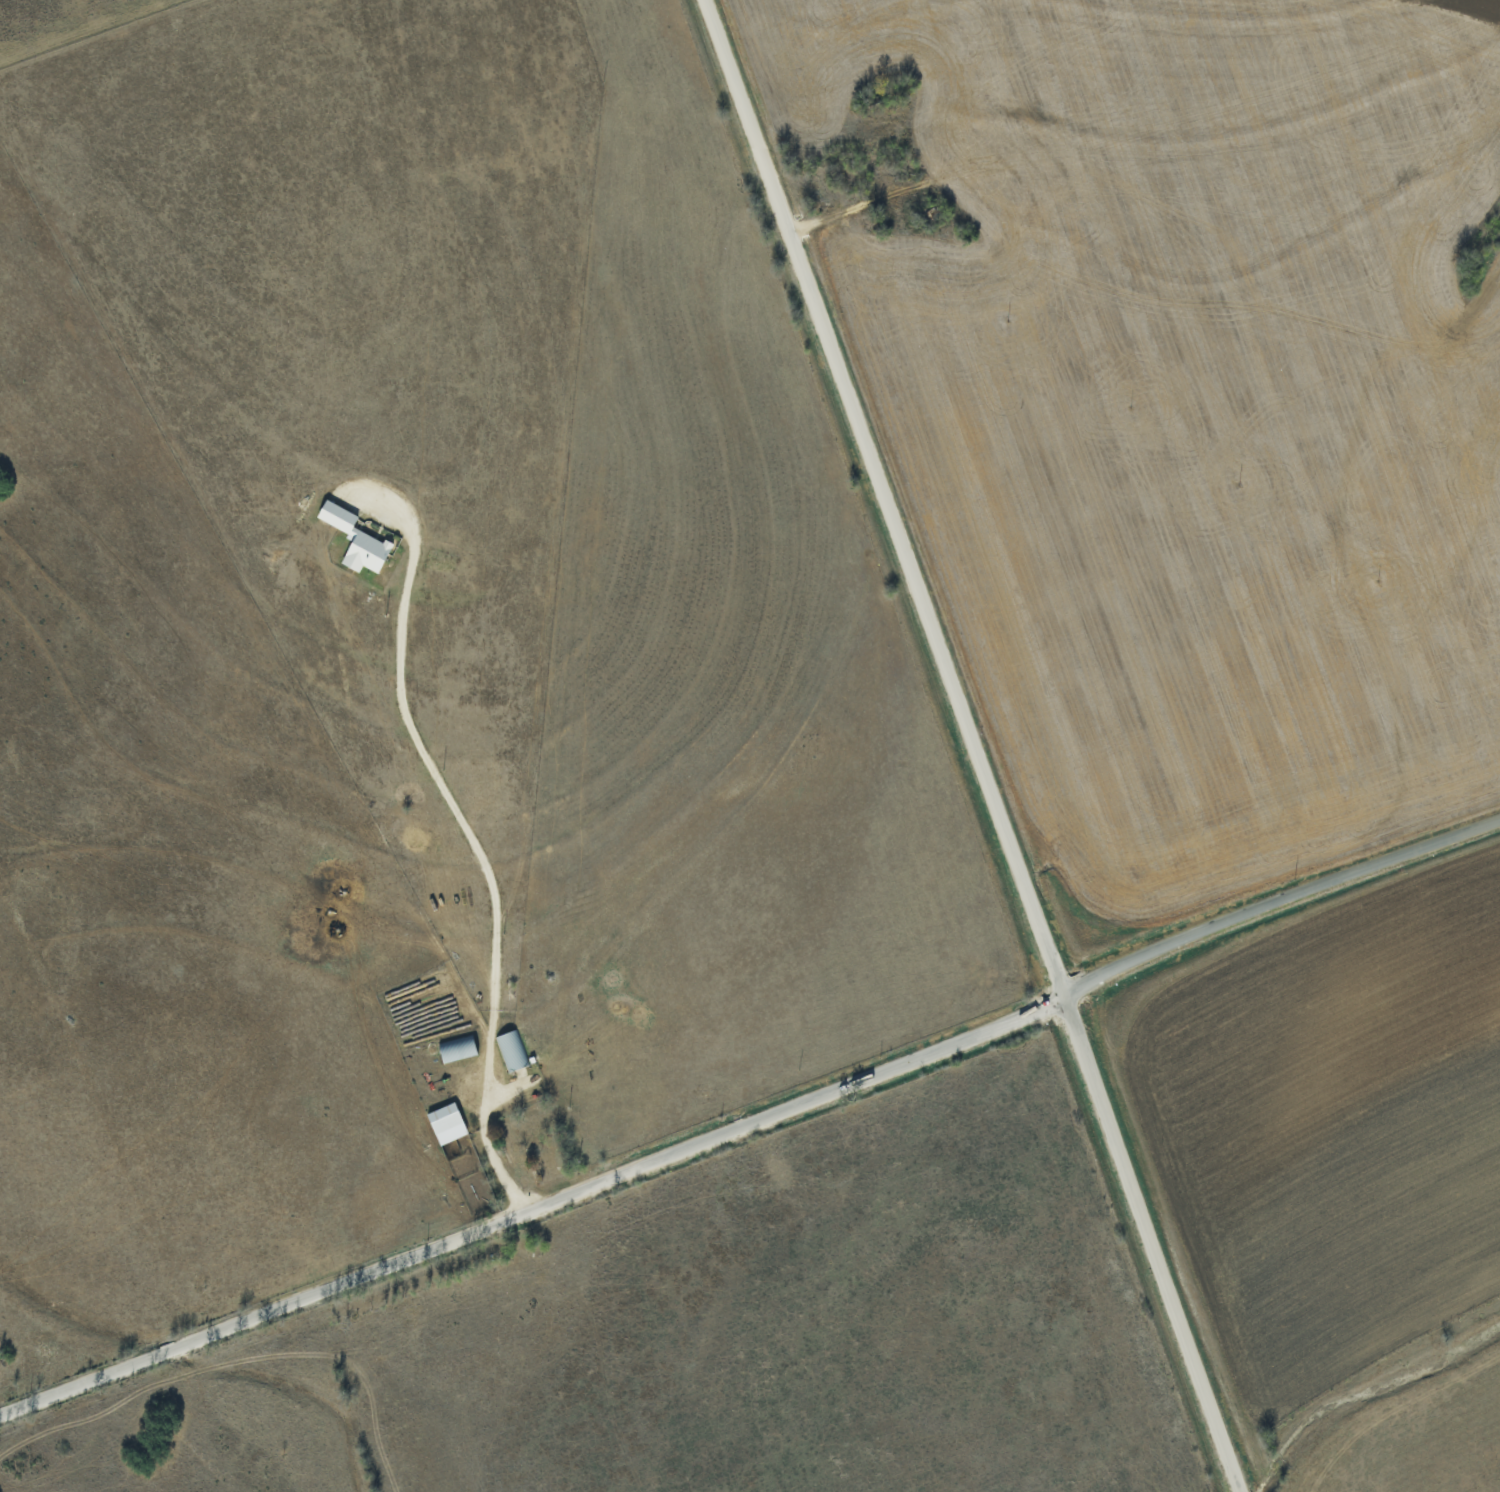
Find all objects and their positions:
building: (355, 539)
road: (973, 745)
road: (469, 838)
building: (457, 1048)
building: (511, 1050)
building: (446, 1123)
road: (752, 1123)

